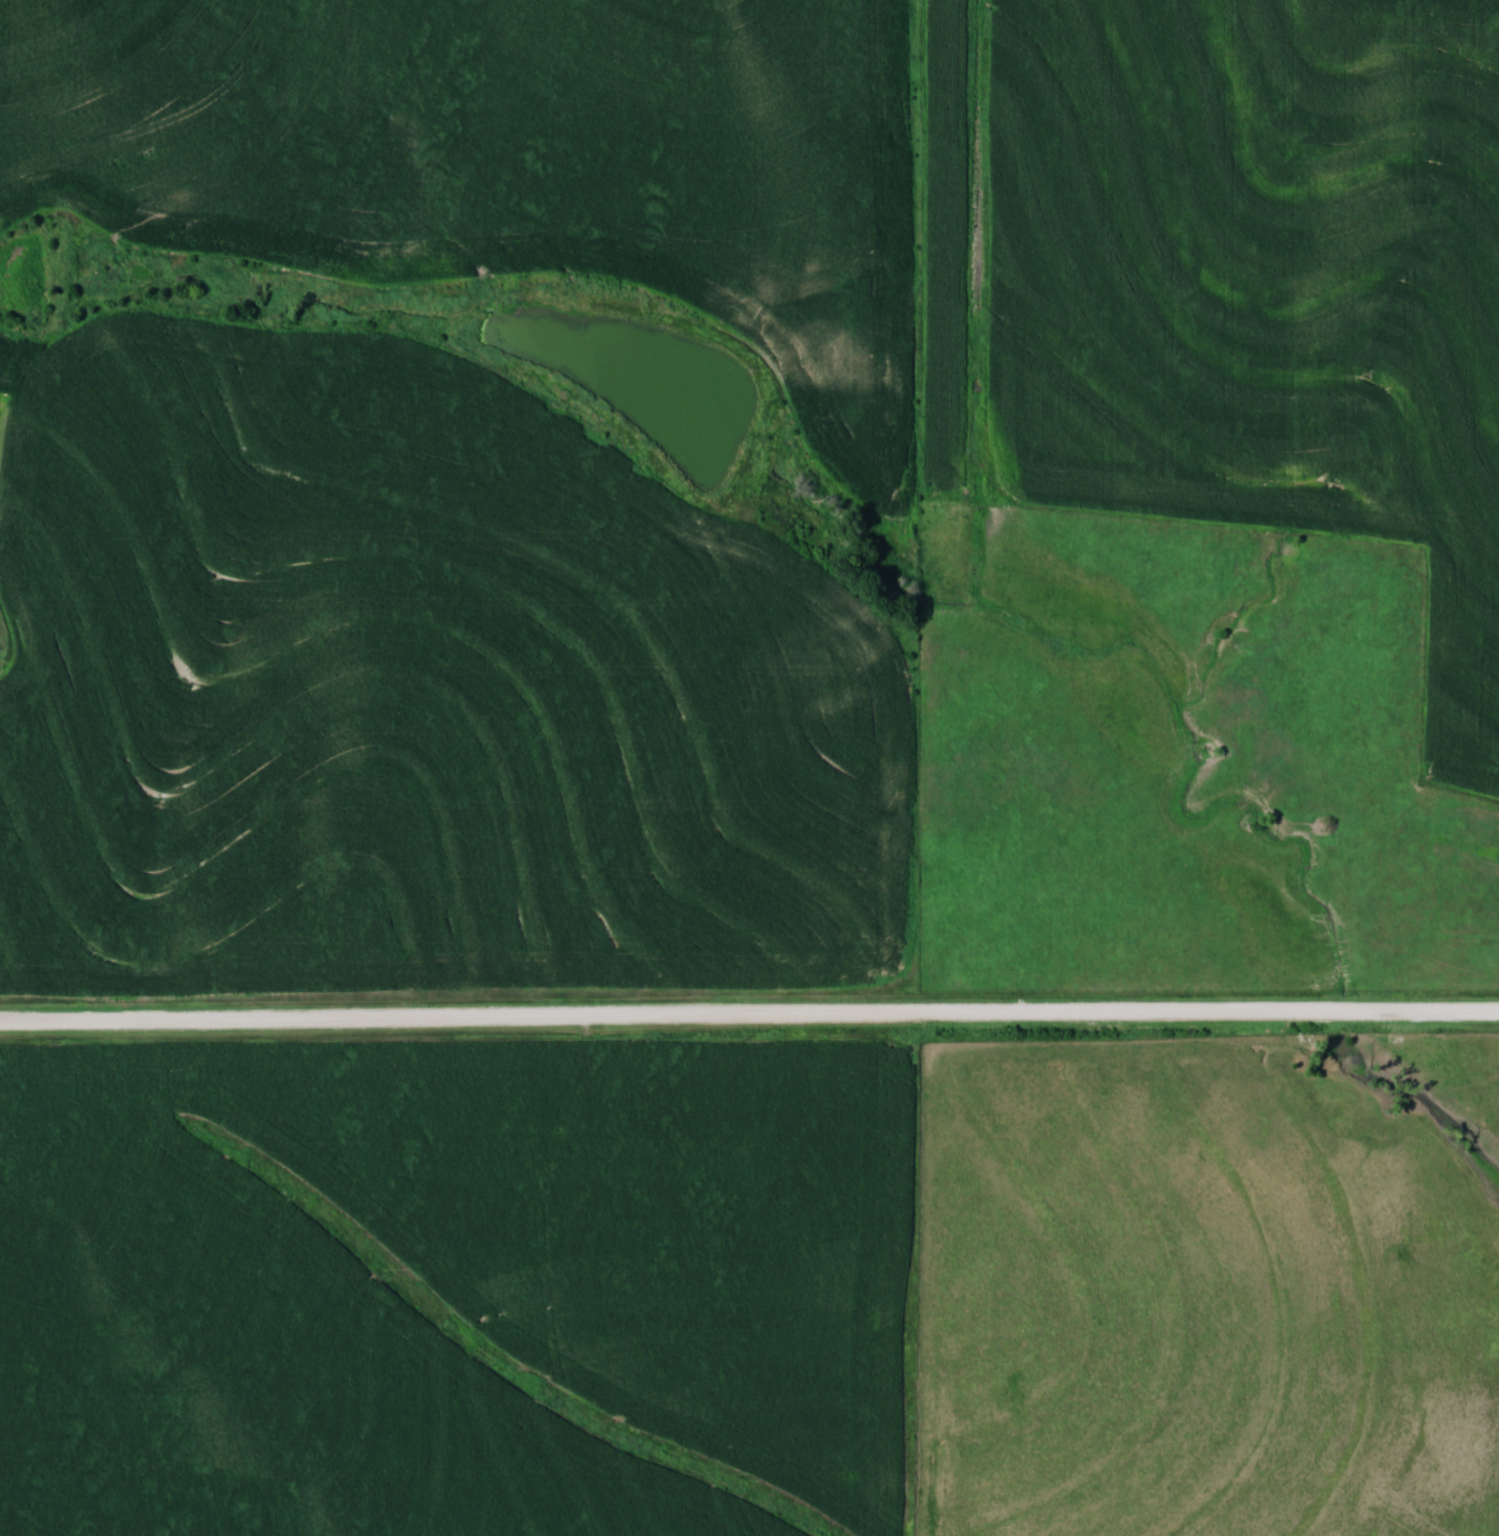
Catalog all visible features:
road: (749, 1016)

